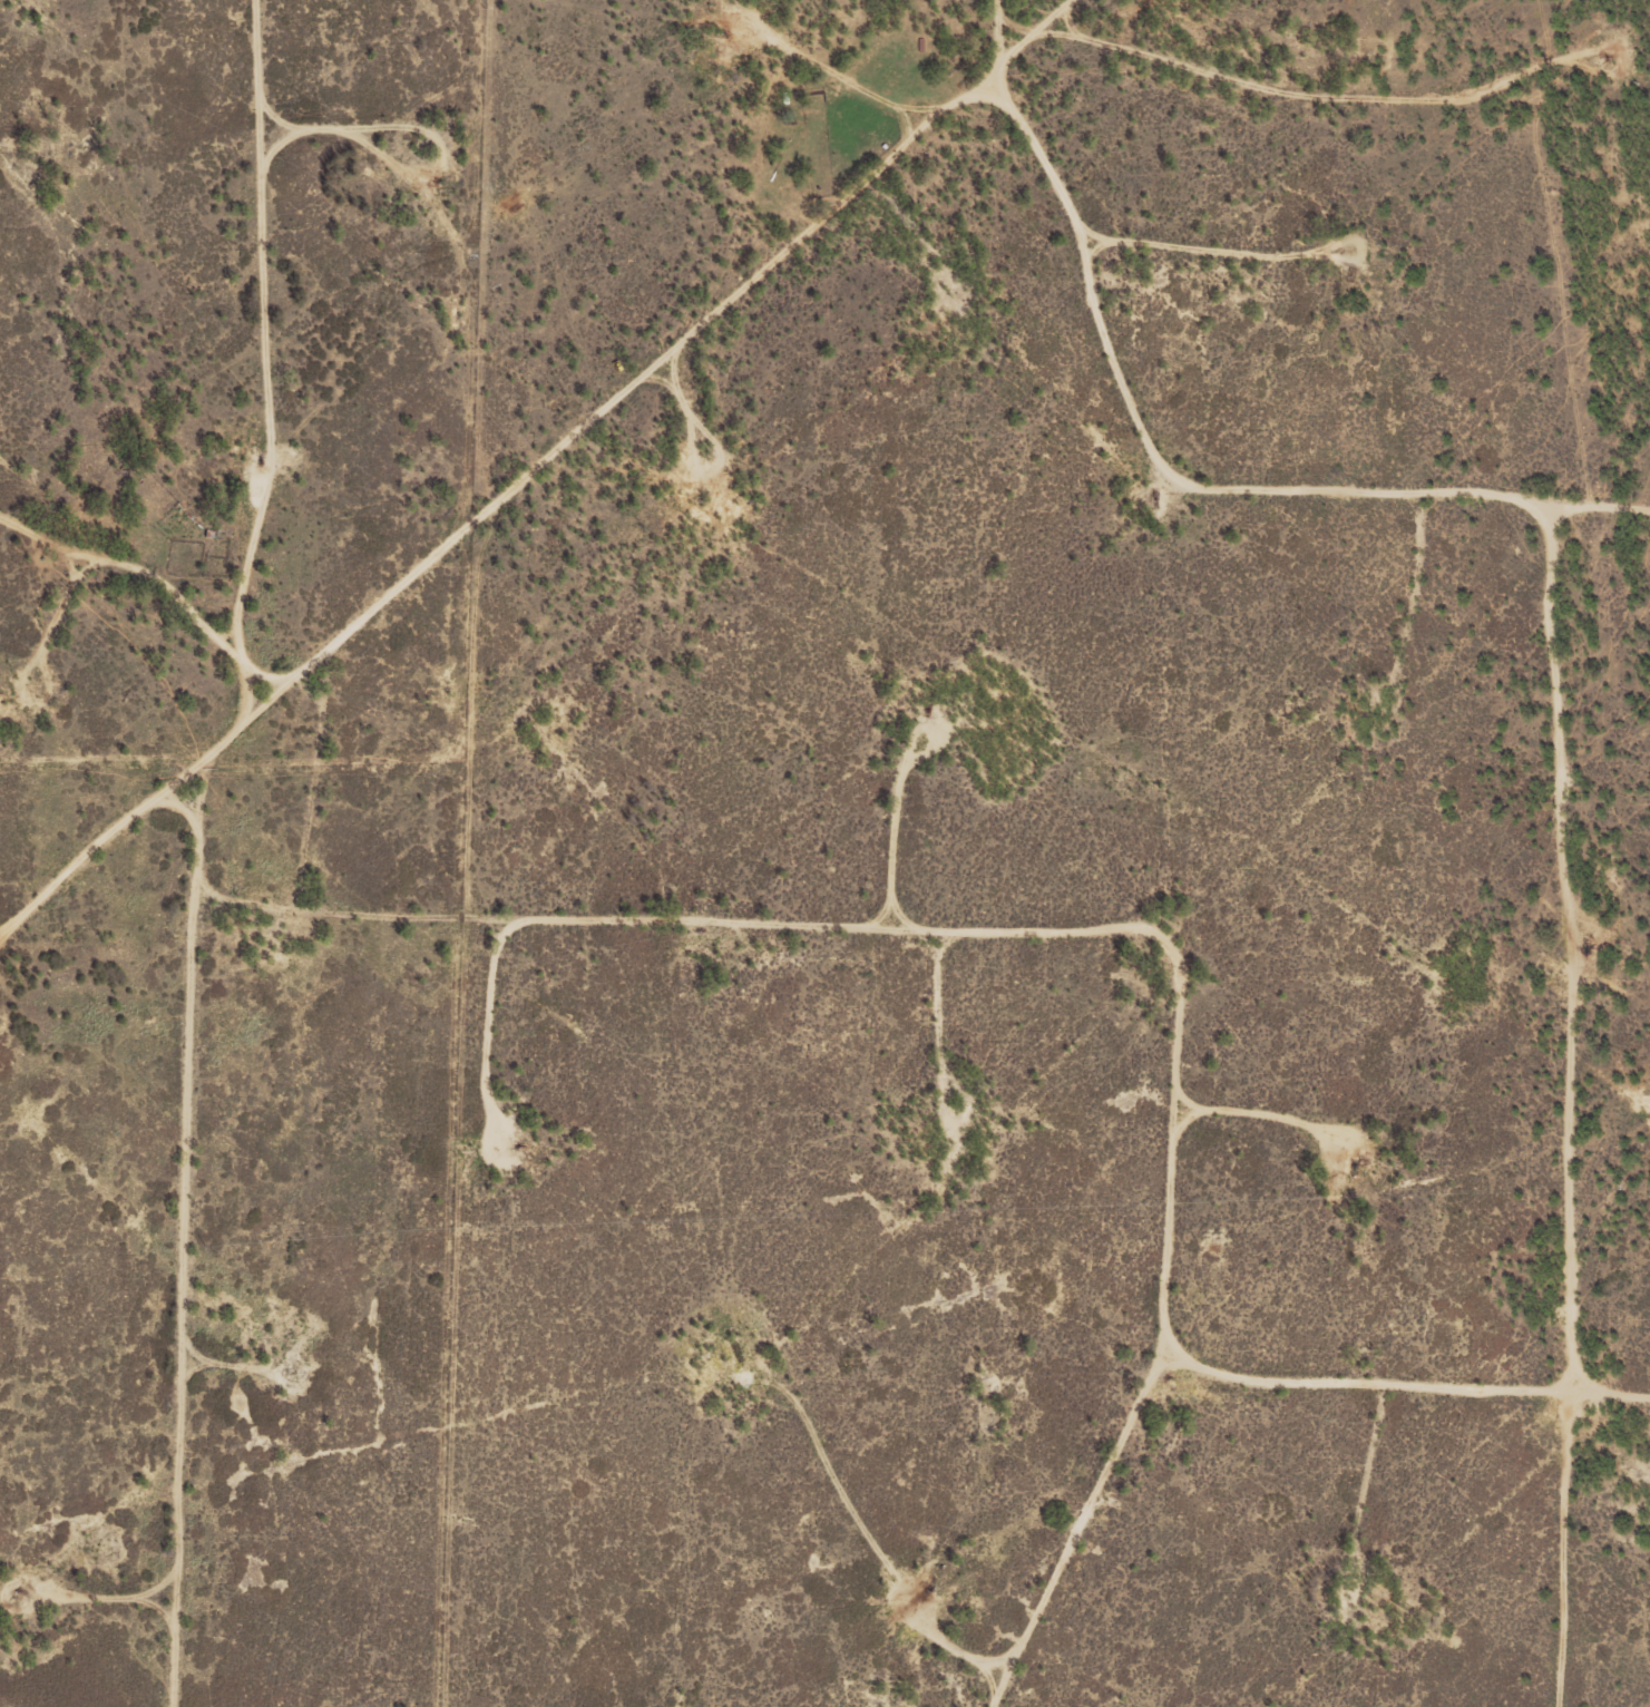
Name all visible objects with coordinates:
road: (1091, 21)
road: (858, 91)
road: (1357, 111)
road: (312, 388)
road: (616, 419)
road: (1431, 514)
road: (145, 583)
road: (1207, 720)
road: (108, 849)
road: (937, 958)
road: (1613, 1124)
road: (248, 1222)
road: (782, 1377)
road: (1446, 1396)
road: (1129, 1537)
road: (1221, 1547)

